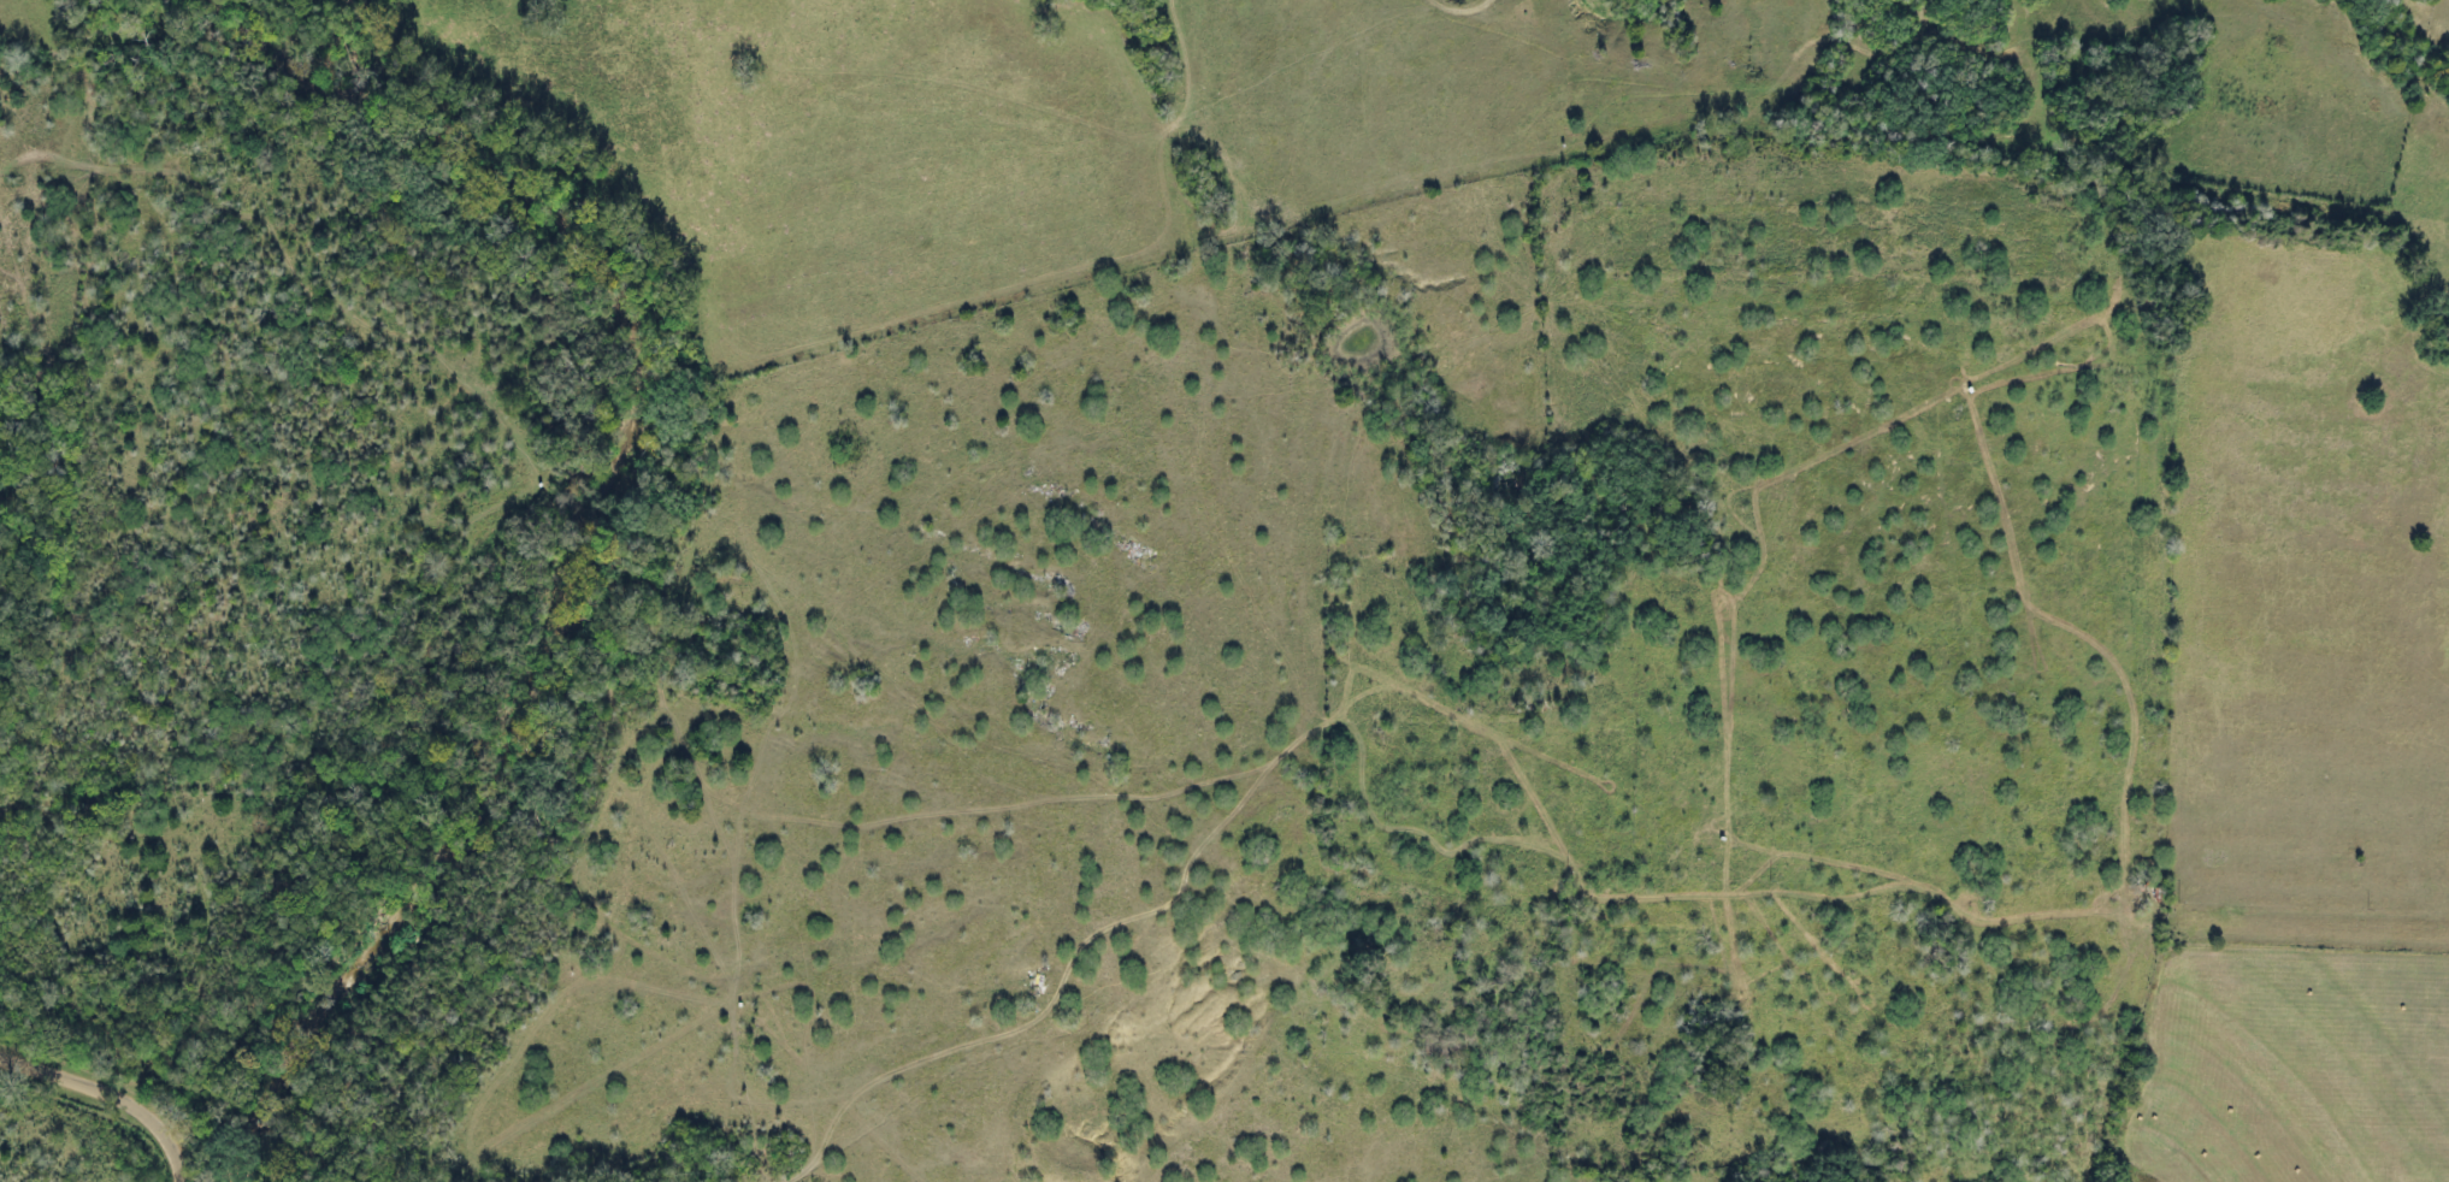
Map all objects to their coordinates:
road: (1967, 892)
road: (2441, 910)
road: (113, 1092)

